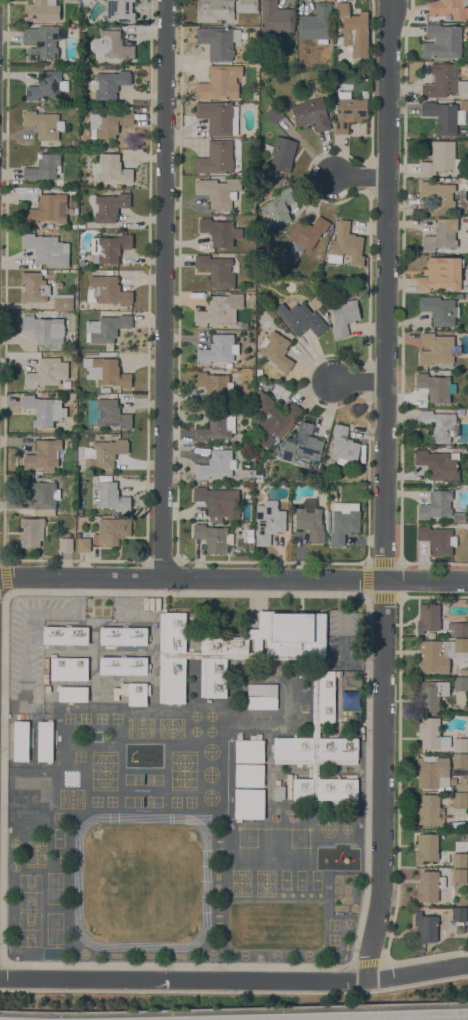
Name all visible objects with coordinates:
building: (68, 0)
building: (86, 1)
building: (246, 5)
building: (448, 8)
building: (41, 10)
building: (120, 10)
building: (214, 10)
building: (275, 18)
building: (316, 23)
building: (354, 29)
building: (42, 39)
building: (218, 41)
building: (442, 41)
building: (111, 45)
building: (444, 81)
building: (220, 82)
building: (110, 83)
building: (47, 85)
building: (349, 110)
building: (311, 112)
building: (274, 113)
building: (445, 115)
building: (219, 117)
building: (108, 123)
building: (42, 124)
building: (281, 152)
building: (216, 157)
building: (440, 158)
building: (44, 167)
building: (112, 168)
road: (360, 177)
building: (219, 192)
building: (439, 195)
building: (108, 205)
building: (279, 207)
building: (49, 209)
building: (81, 225)
building: (220, 230)
building: (308, 232)
building: (442, 234)
building: (345, 244)
building: (109, 247)
building: (47, 249)
building: (296, 251)
building: (83, 263)
building: (217, 270)
building: (441, 273)
building: (362, 282)
building: (35, 286)
building: (109, 289)
road: (164, 289)
building: (63, 302)
building: (220, 309)
building: (440, 309)
building: (90, 313)
building: (344, 316)
building: (300, 318)
building: (243, 325)
building: (107, 327)
building: (45, 329)
building: (71, 337)
building: (219, 349)
building: (438, 349)
building: (276, 350)
building: (106, 371)
building: (47, 372)
road: (358, 380)
building: (214, 384)
building: (436, 386)
building: (44, 409)
building: (107, 413)
building: (274, 419)
building: (216, 424)
building: (440, 425)
building: (303, 446)
building: (344, 446)
building: (105, 452)
building: (44, 454)
building: (216, 464)
building: (439, 465)
building: (258, 474)
road: (384, 491)
building: (41, 493)
building: (110, 496)
building: (218, 502)
building: (436, 504)
building: (311, 520)
building: (269, 521)
building: (344, 521)
building: (112, 530)
building: (32, 531)
building: (250, 535)
building: (213, 537)
building: (438, 539)
building: (83, 541)
building: (66, 544)
road: (233, 578)
road: (66, 610)
building: (427, 618)
building: (455, 628)
building: (65, 634)
building: (124, 635)
road: (25, 654)
building: (193, 654)
building: (440, 654)
building: (275, 655)
building: (172, 657)
building: (123, 665)
building: (69, 668)
building: (464, 671)
building: (461, 683)
building: (73, 693)
building: (137, 694)
building: (430, 694)
building: (262, 696)
road: (16, 705)
building: (315, 729)
building: (432, 733)
building: (21, 740)
building: (45, 741)
building: (460, 744)
building: (250, 750)
building: (315, 750)
building: (460, 764)
building: (315, 770)
building: (432, 771)
building: (249, 775)
building: (463, 784)
building: (279, 791)
building: (325, 791)
building: (26, 797)
building: (460, 798)
building: (249, 803)
building: (430, 810)
building: (426, 847)
building: (460, 860)
building: (459, 875)
building: (429, 886)
building: (459, 913)
building: (426, 927)
road: (234, 981)
road: (386, 1017)

